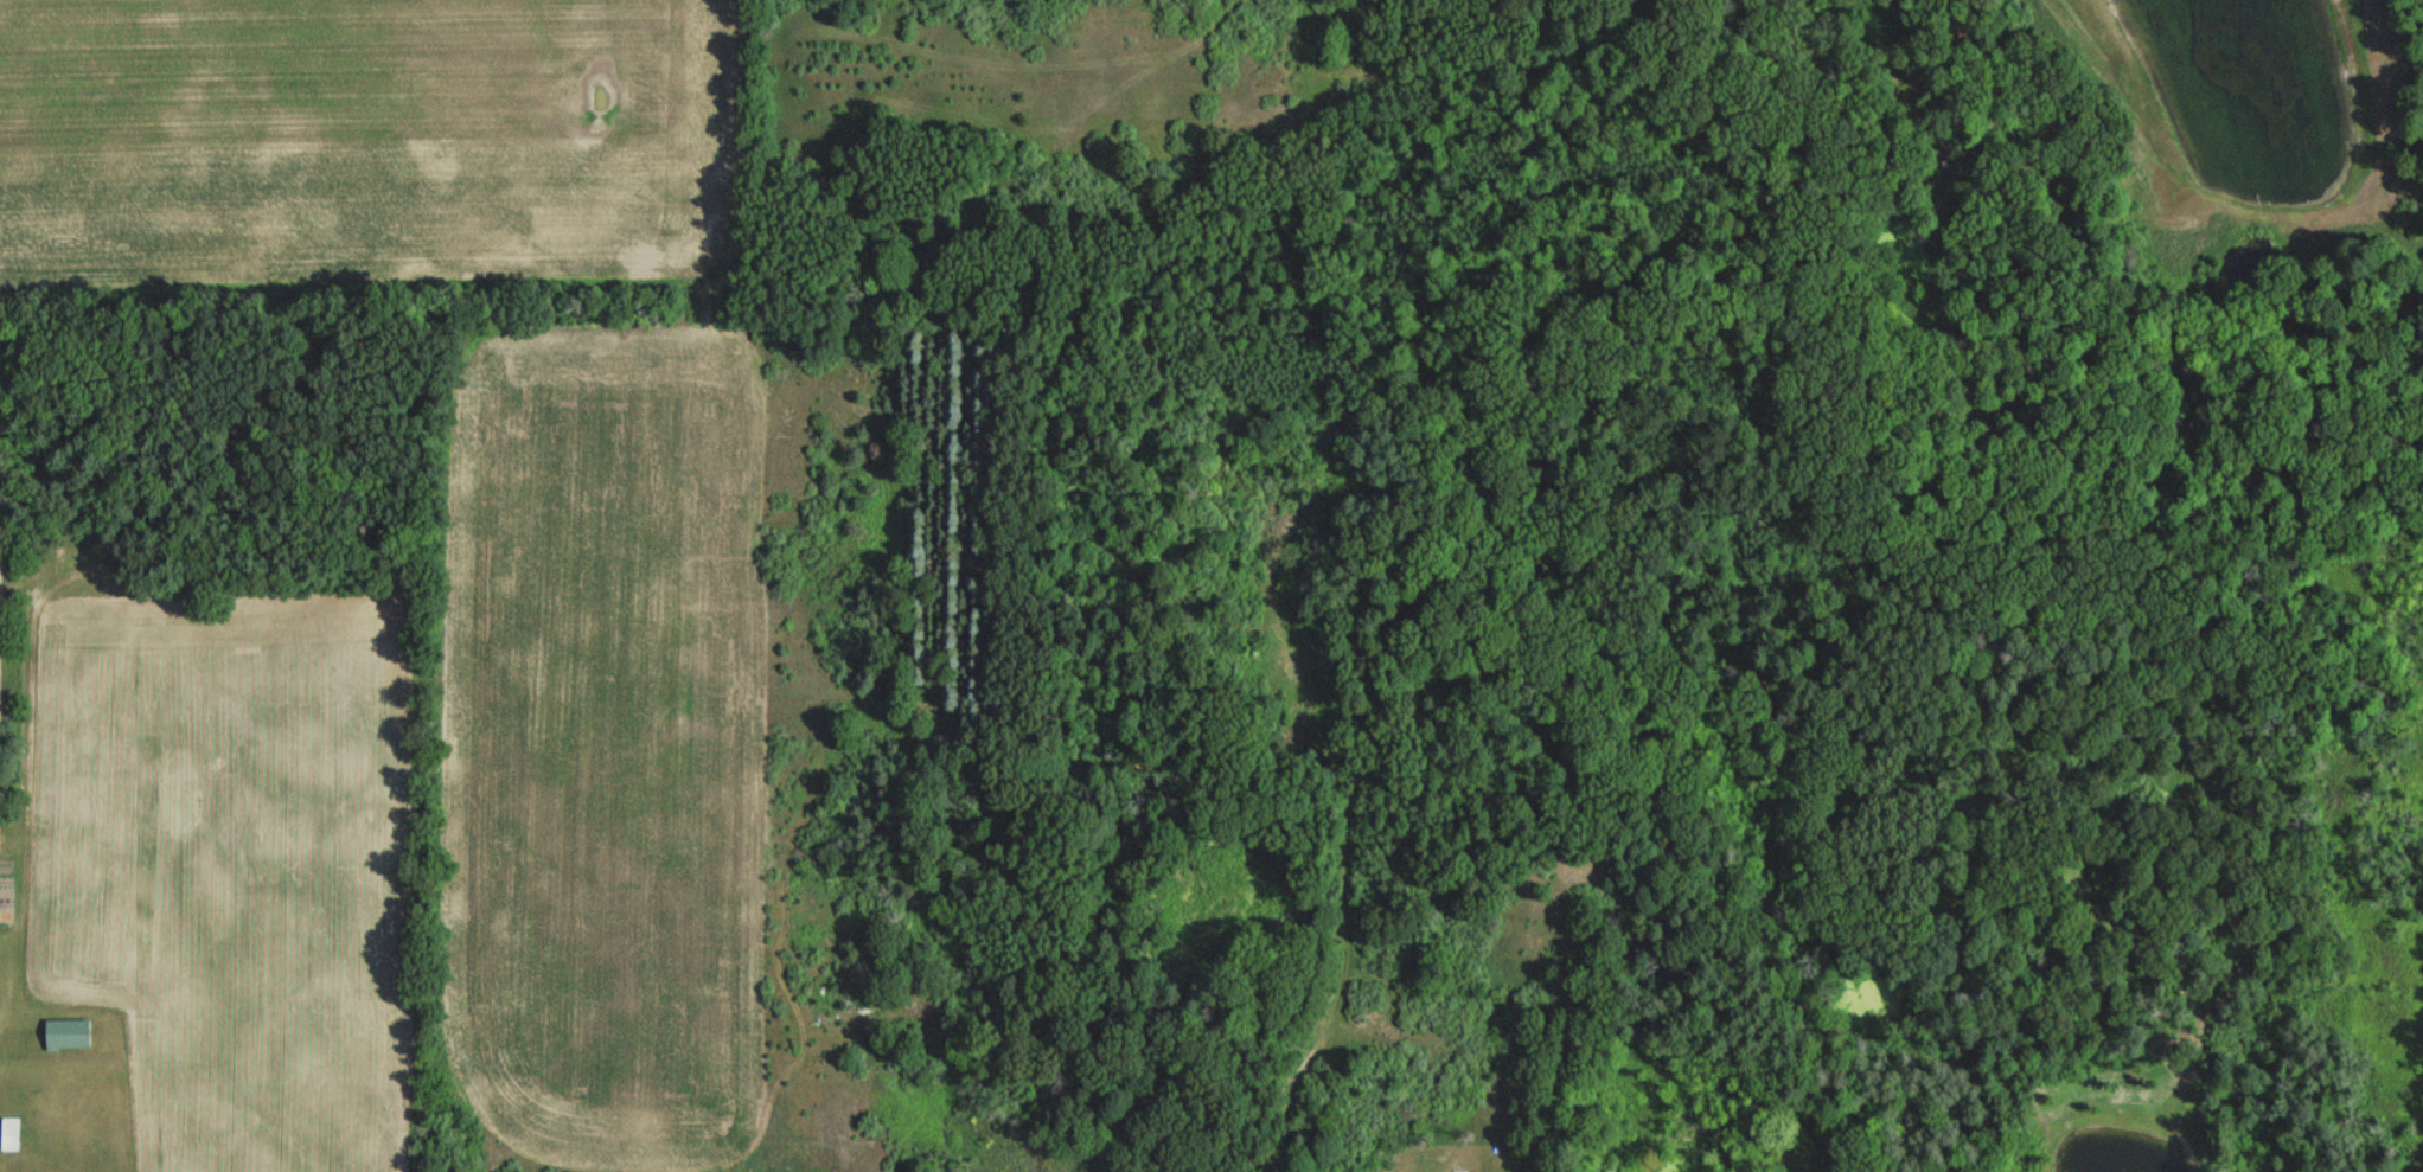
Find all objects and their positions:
building: (65, 1036)
building: (8, 1135)

